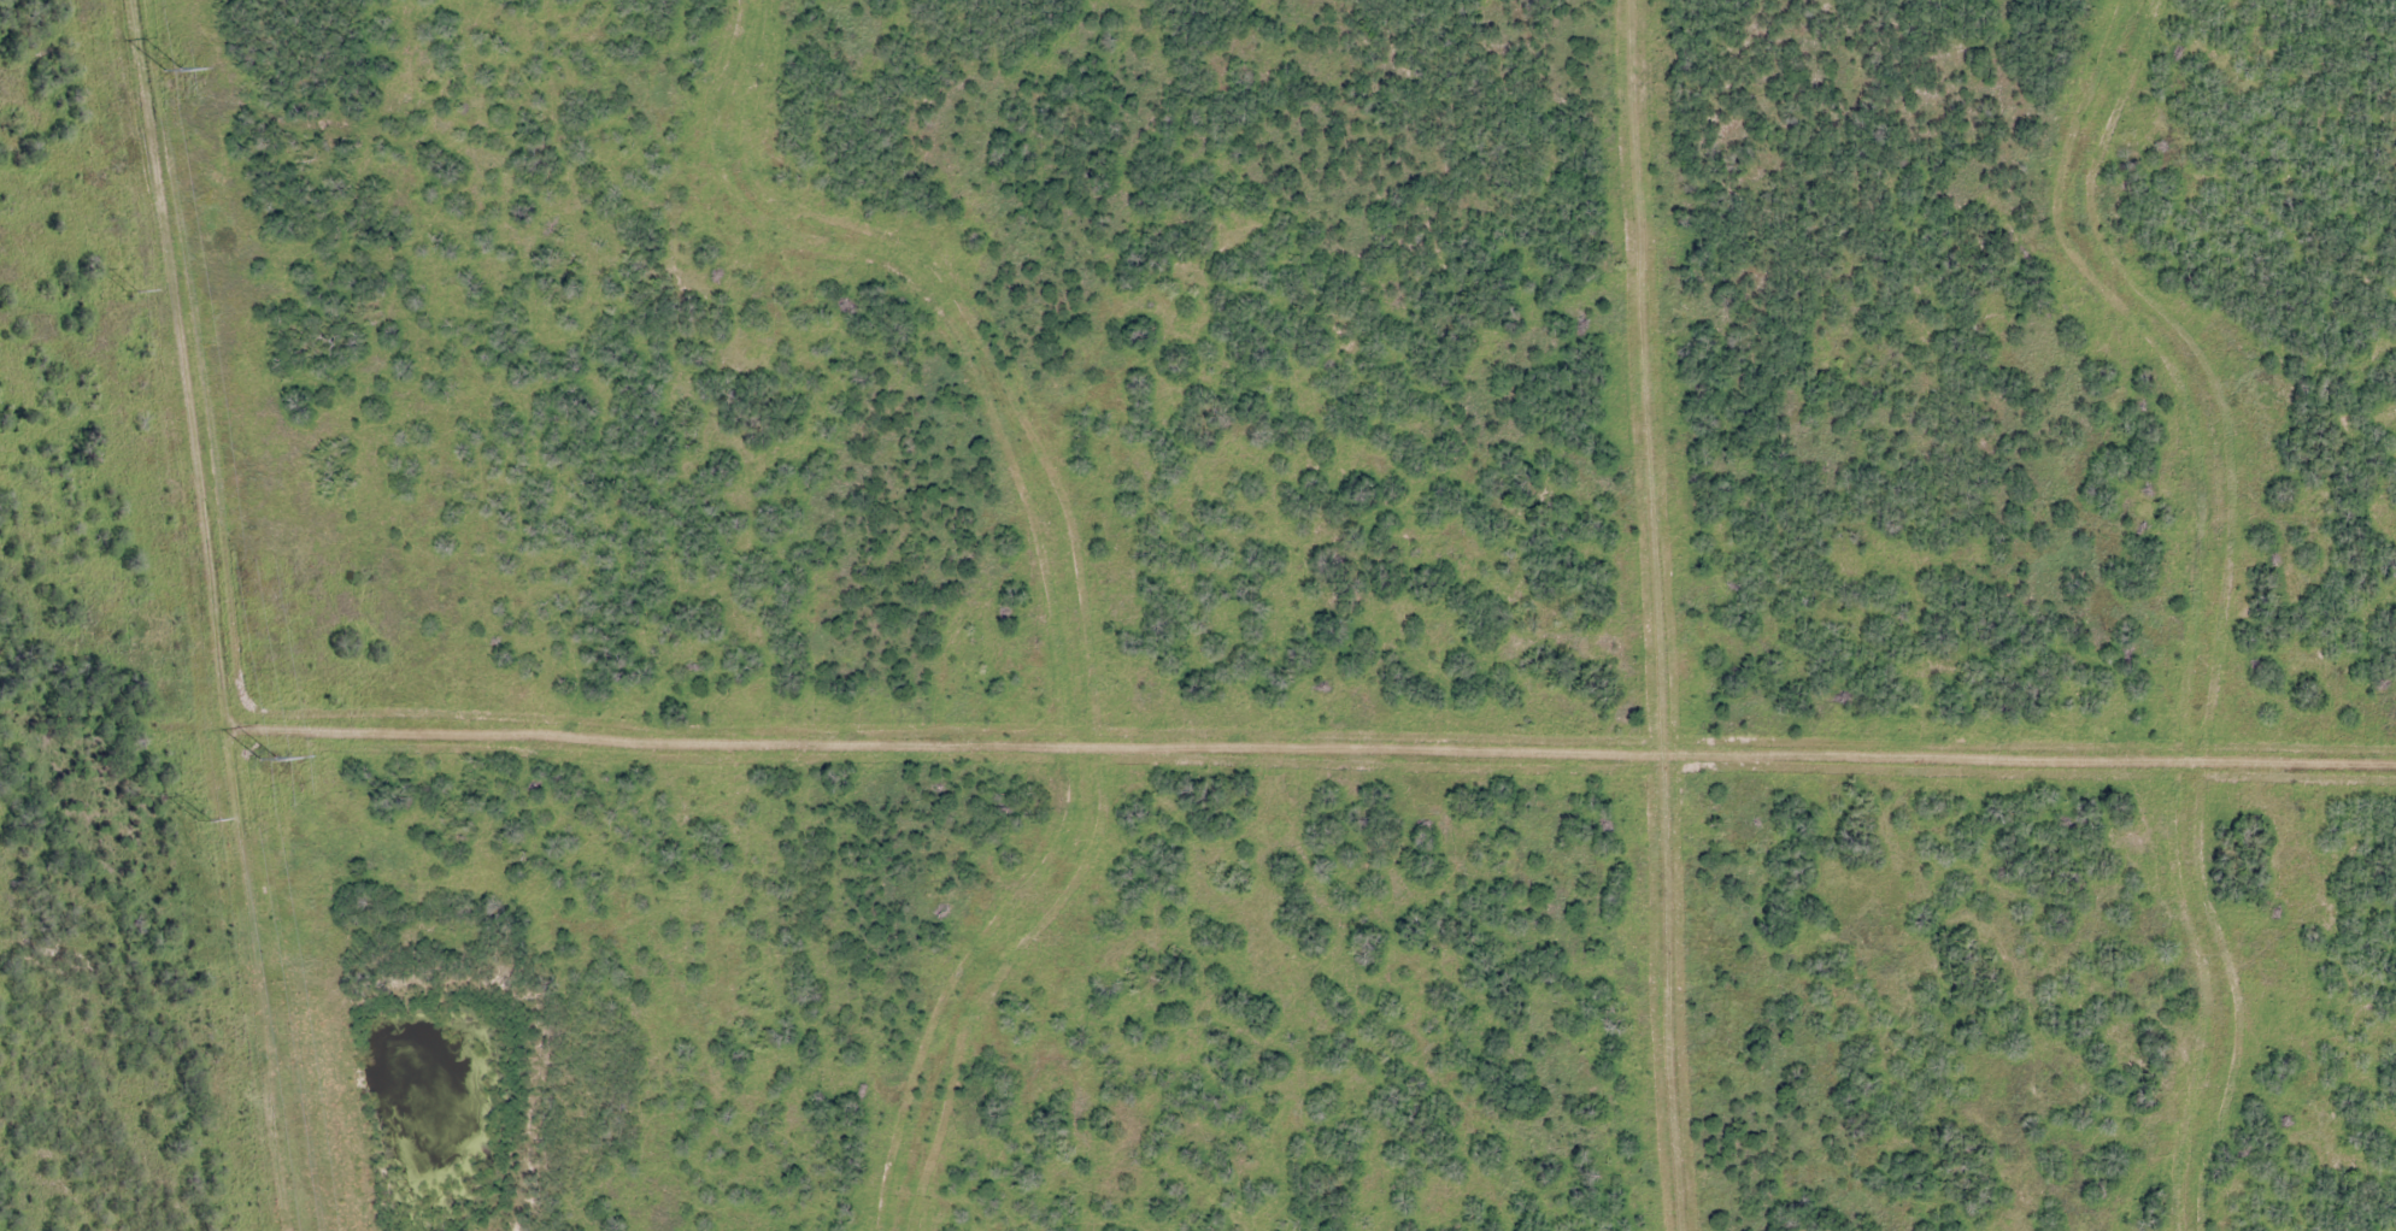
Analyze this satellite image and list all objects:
power tower: (171, 69)
power tower: (129, 291)
road: (1603, 615)
power tower: (265, 759)
power tower: (201, 819)

